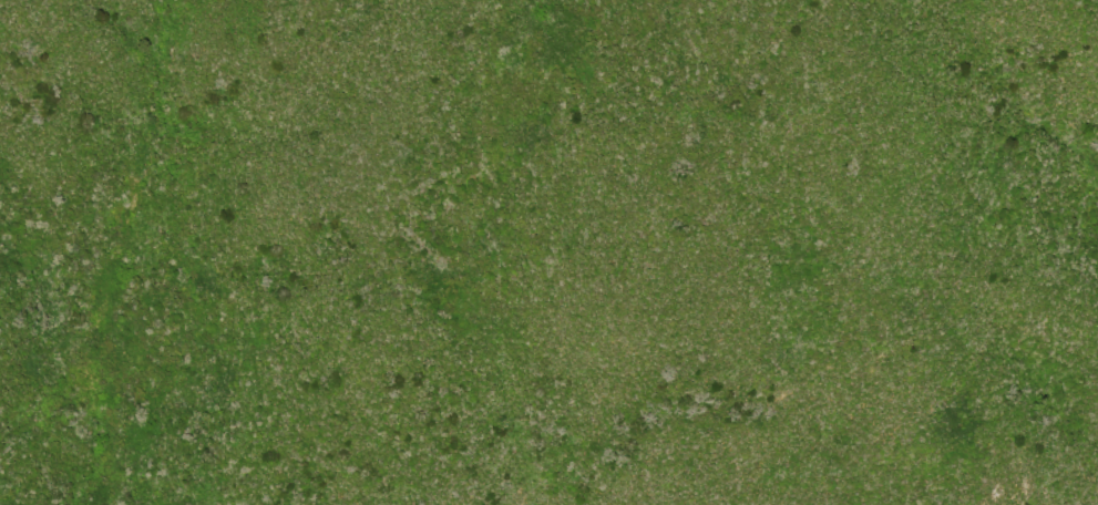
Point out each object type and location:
park: (548, 252)

